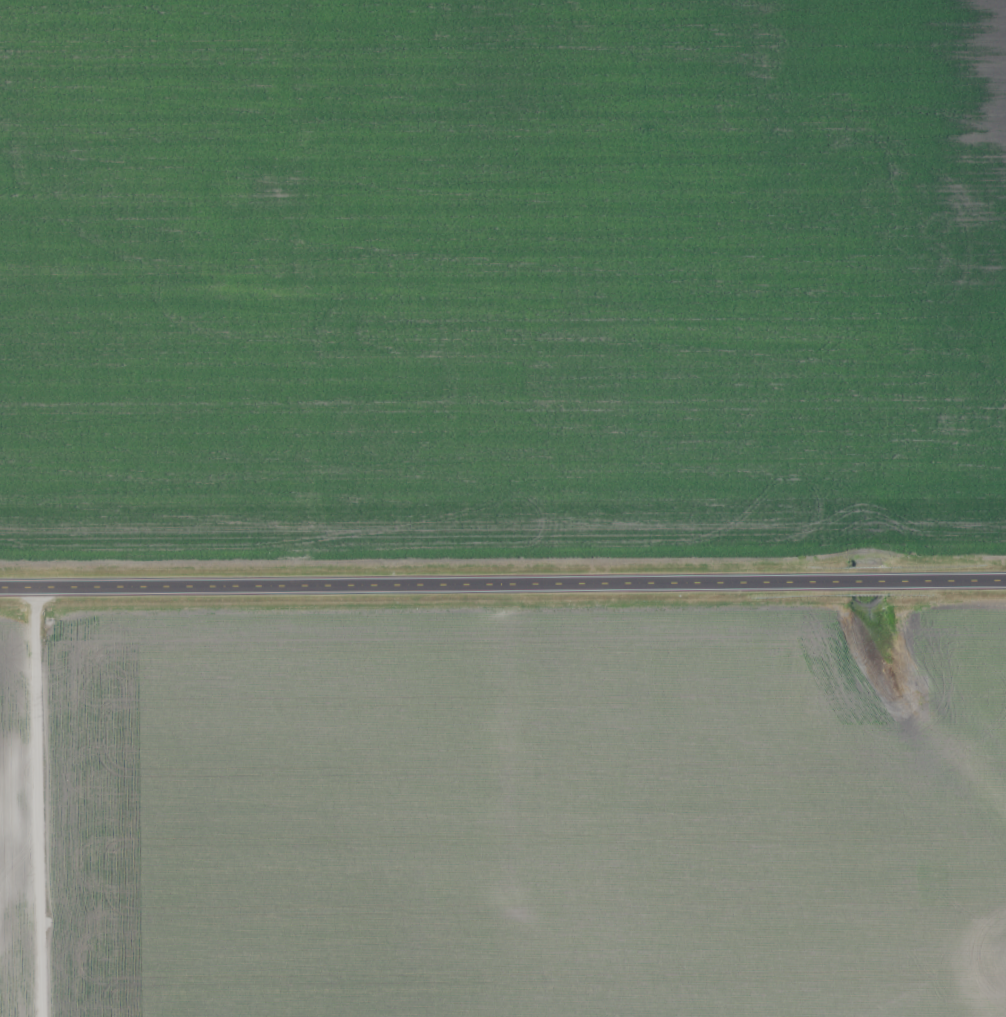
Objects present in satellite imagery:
road: (502, 584)
road: (32, 803)

